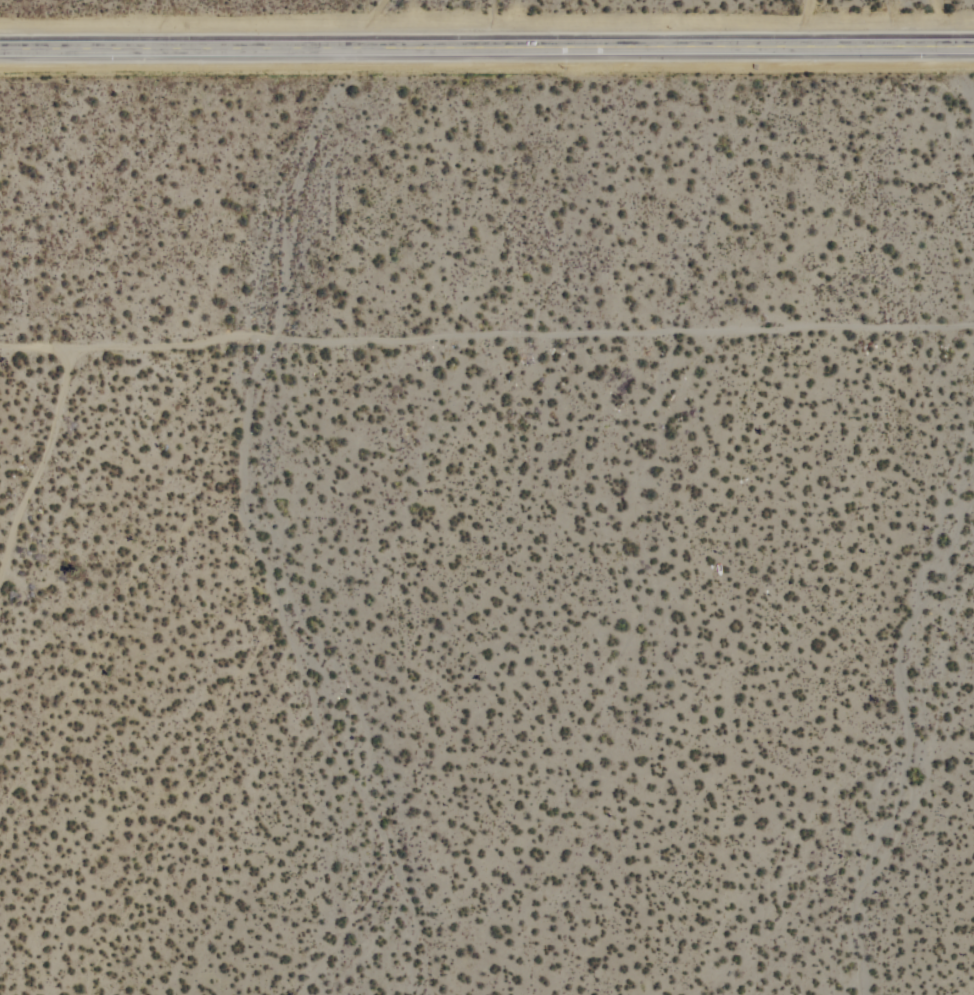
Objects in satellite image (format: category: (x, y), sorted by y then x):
road: (487, 46)

